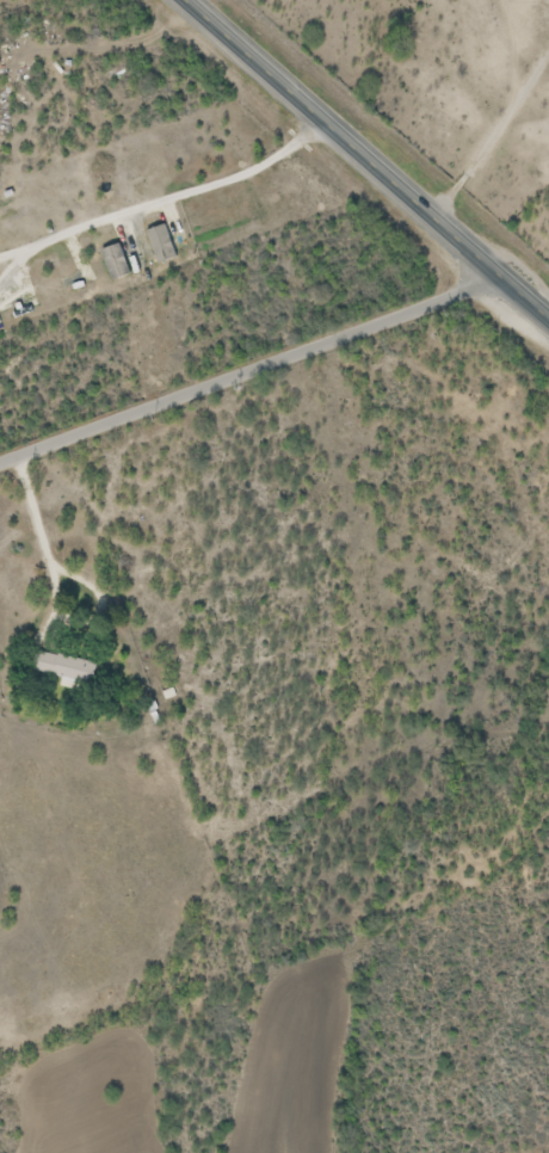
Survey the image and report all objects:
railway: (415, 118)
road: (494, 137)
road: (370, 155)
road: (253, 370)
building: (62, 668)

